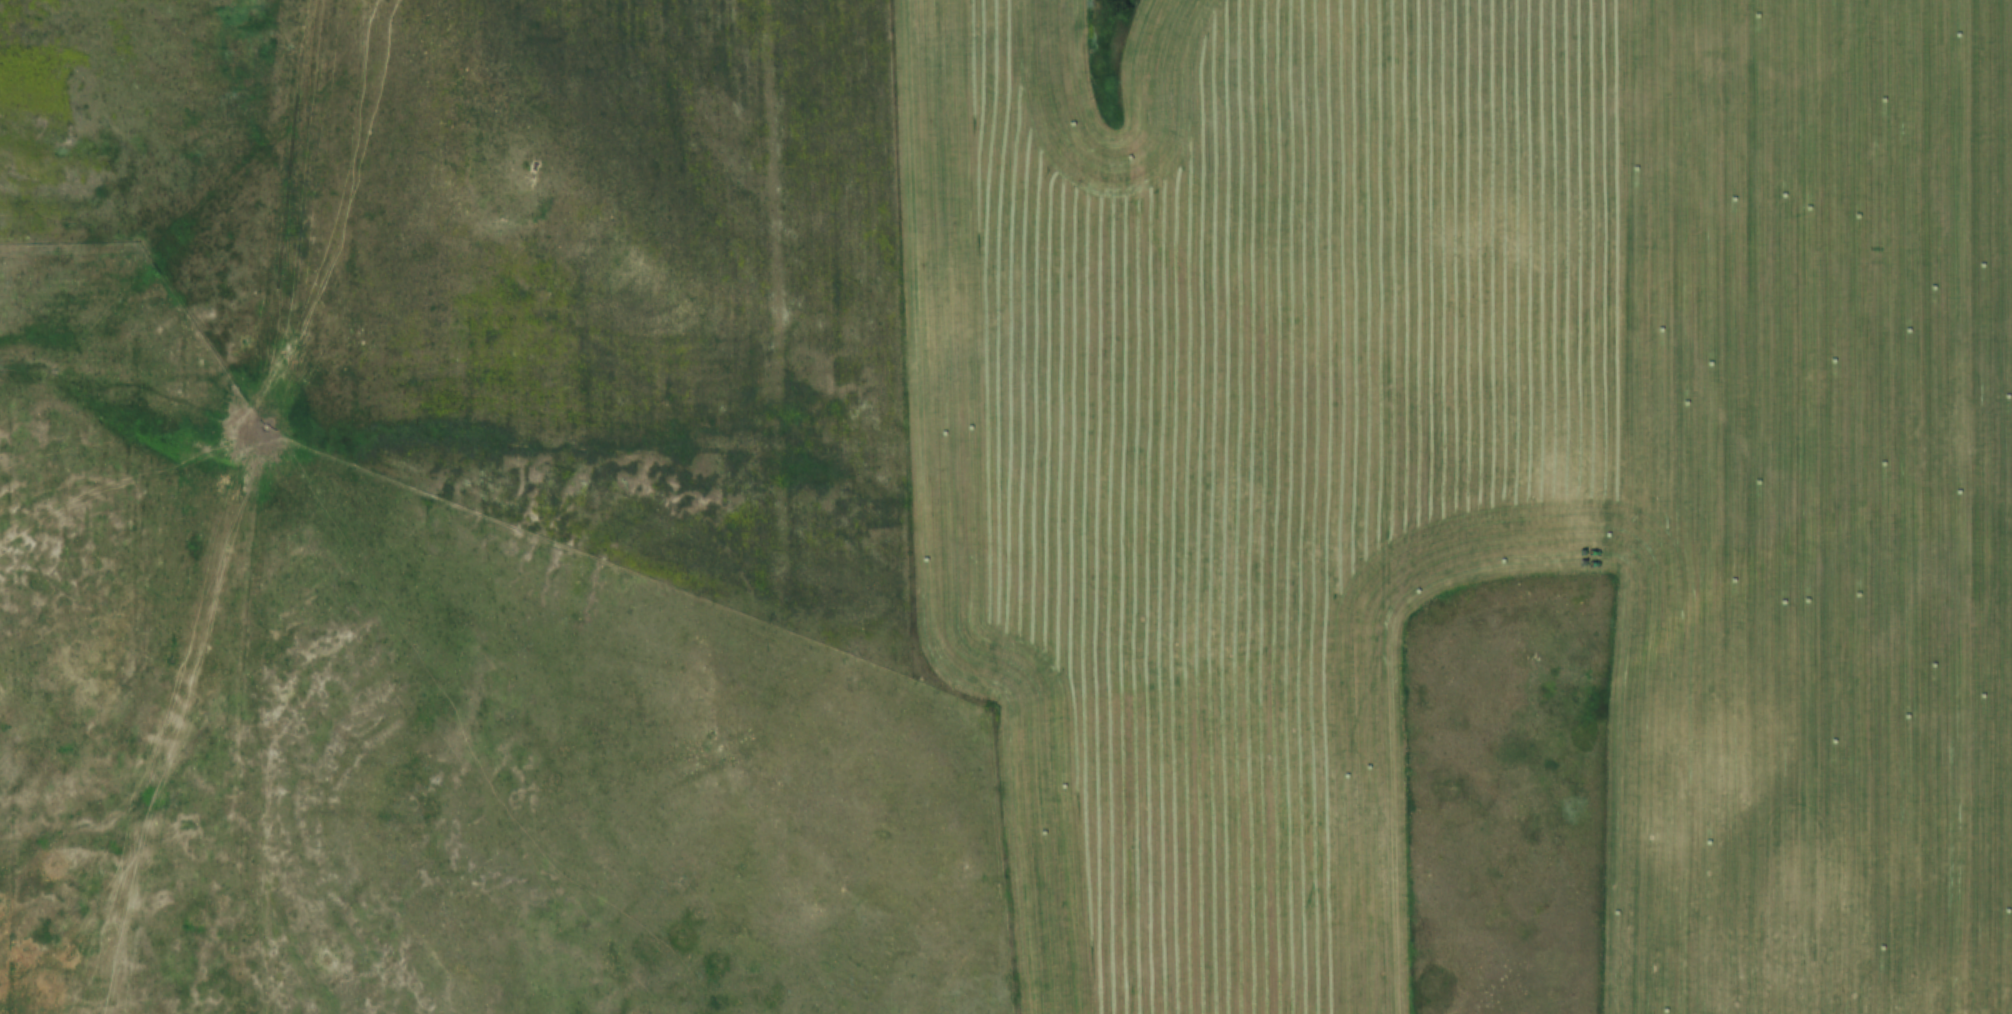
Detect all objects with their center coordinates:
building: (1847, 300)
road: (197, 576)

